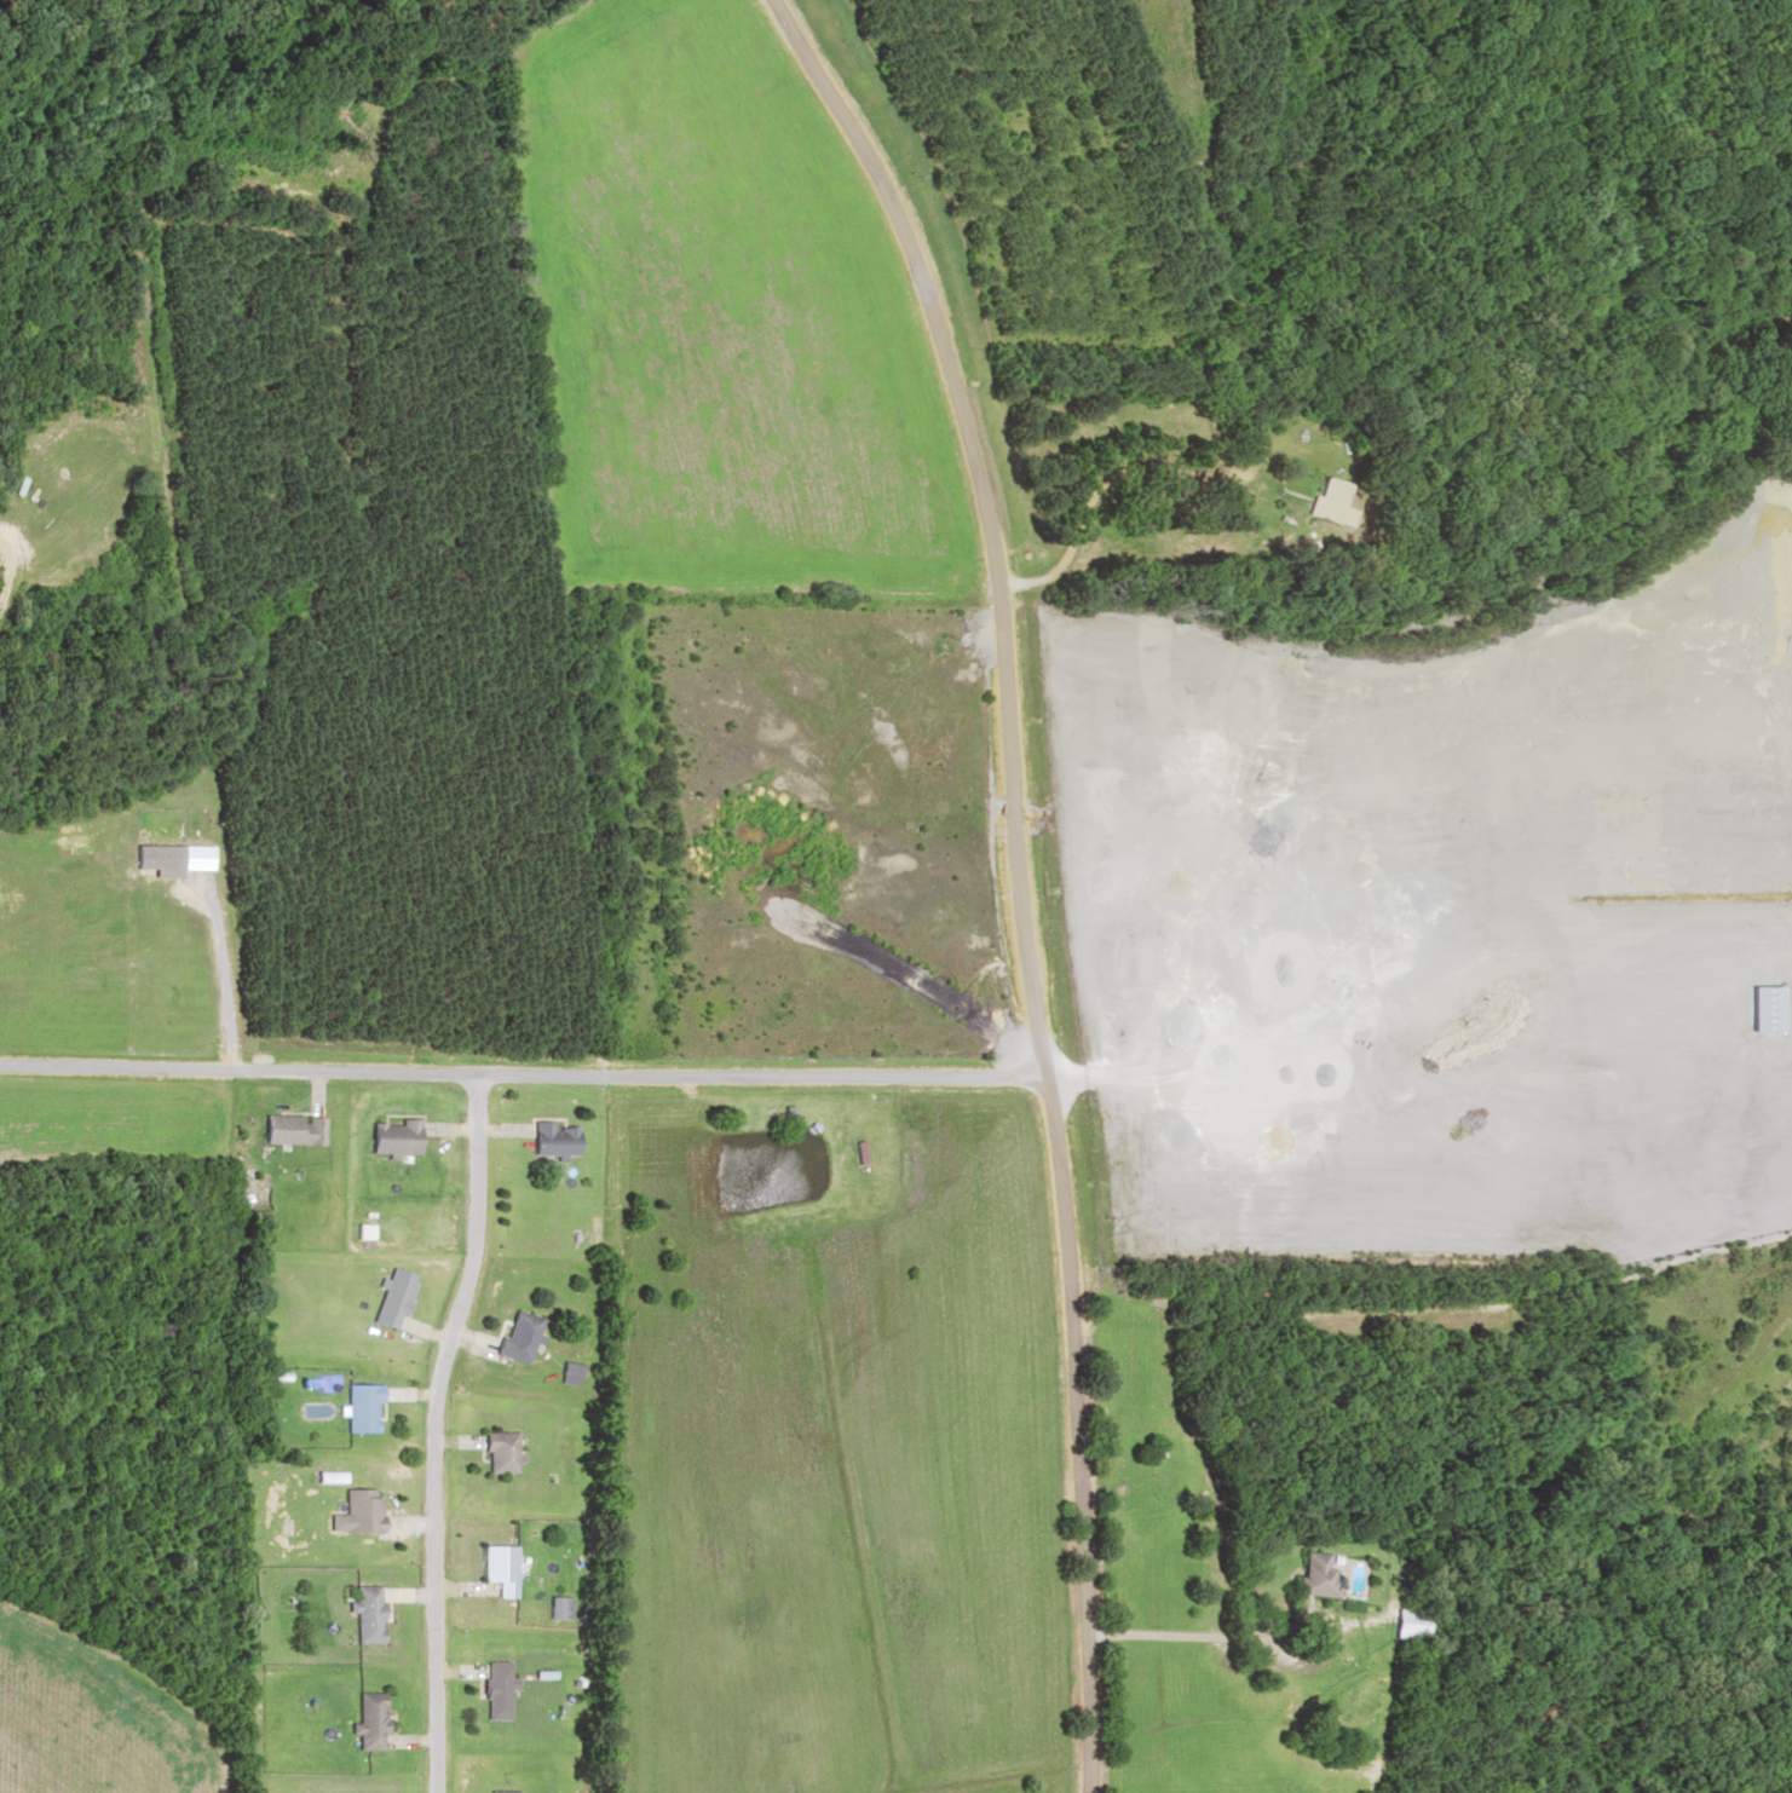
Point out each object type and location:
building: (1331, 503)
road: (1001, 869)
building: (1763, 1007)
road: (509, 1083)
building: (288, 1131)
building: (549, 1136)
building: (390, 1138)
building: (390, 1296)
building: (515, 1336)
building: (571, 1367)
building: (357, 1406)
building: (1154, 1449)
building: (497, 1451)
building: (357, 1509)
building: (496, 1567)
building: (1316, 1572)
building: (558, 1607)
building: (361, 1613)
building: (1411, 1624)
building: (494, 1689)
building: (361, 1720)
building: (497, 1791)

